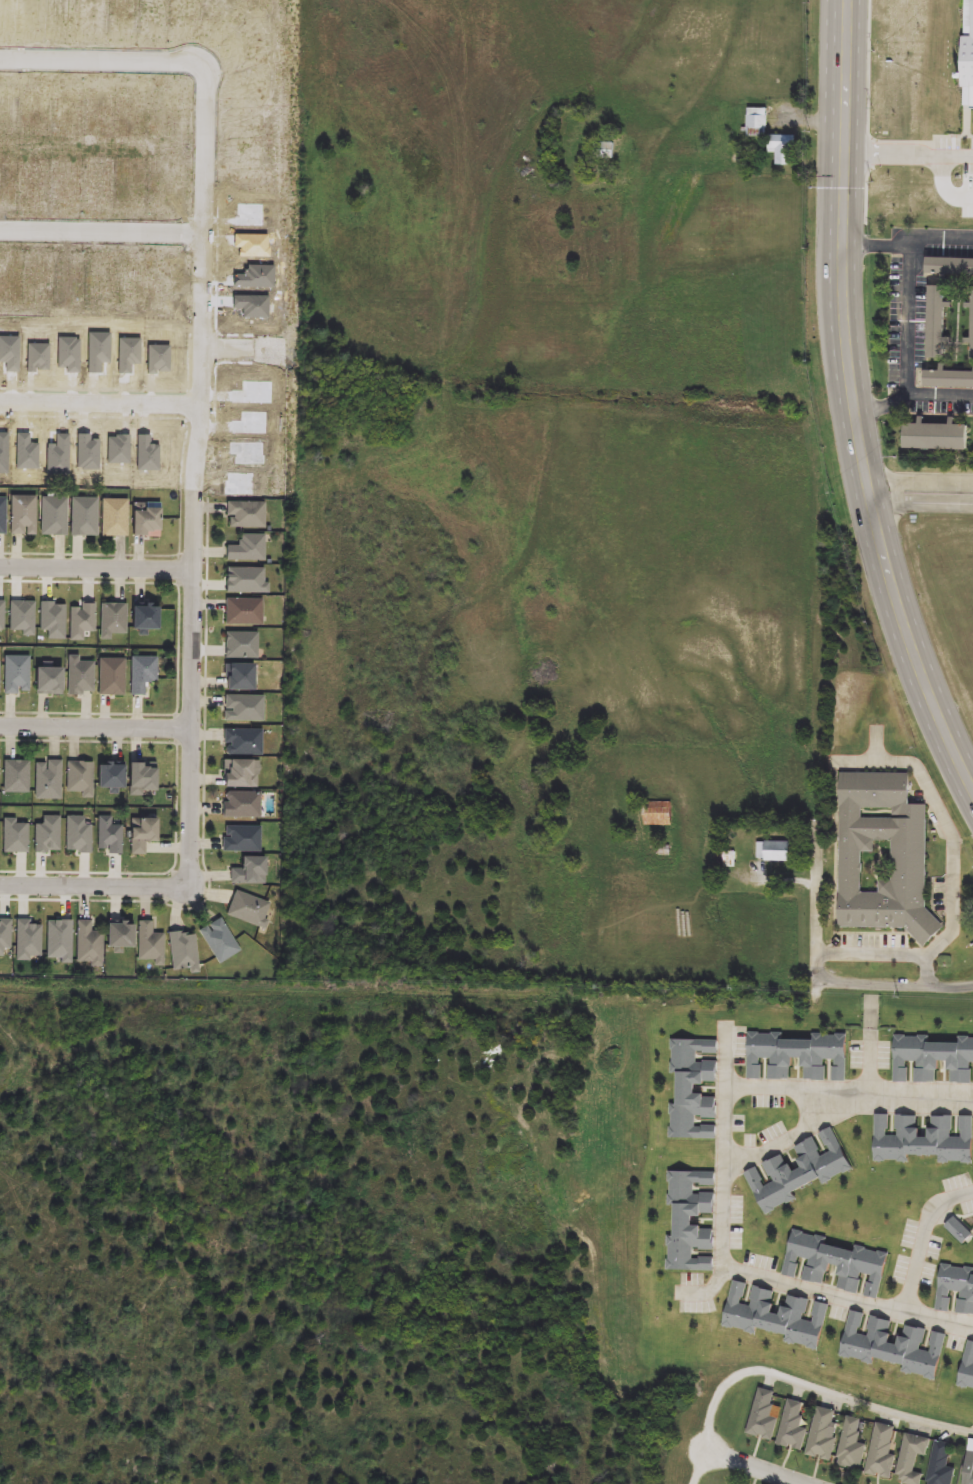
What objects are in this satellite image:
building: (966, 53)
road: (100, 61)
road: (866, 110)
building: (756, 123)
building: (782, 148)
building: (948, 148)
road: (909, 150)
building: (607, 151)
building: (7, 178)
building: (35, 181)
building: (99, 182)
parking lot: (968, 182)
building: (163, 183)
road: (944, 184)
building: (68, 185)
road: (193, 185)
building: (132, 186)
building: (249, 214)
road: (95, 217)
road: (104, 233)
road: (192, 234)
road: (94, 245)
building: (251, 245)
road: (908, 245)
building: (949, 267)
road: (219, 268)
building: (71, 277)
building: (255, 277)
building: (10, 279)
building: (131, 280)
building: (38, 281)
building: (161, 282)
road: (205, 282)
building: (100, 284)
building: (251, 305)
road: (191, 319)
road: (909, 320)
building: (935, 322)
building: (971, 325)
road: (237, 335)
road: (225, 347)
road: (217, 348)
building: (96, 352)
building: (10, 354)
building: (127, 355)
building: (67, 356)
building: (37, 358)
building: (156, 358)
road: (236, 362)
building: (948, 378)
road: (94, 389)
building: (252, 393)
road: (912, 395)
road: (99, 401)
road: (855, 402)
road: (190, 405)
road: (94, 415)
building: (250, 423)
building: (934, 436)
building: (117, 451)
building: (25, 452)
building: (86, 452)
building: (245, 452)
building: (3, 453)
building: (57, 455)
building: (146, 455)
building: (238, 484)
road: (182, 485)
road: (922, 494)
building: (23, 514)
building: (246, 514)
building: (3, 515)
building: (54, 516)
building: (83, 516)
building: (115, 516)
building: (146, 522)
building: (247, 547)
road: (88, 554)
road: (97, 568)
road: (176, 569)
building: (245, 580)
building: (243, 610)
building: (1, 616)
building: (22, 618)
building: (114, 618)
building: (83, 619)
building: (52, 620)
building: (146, 621)
building: (241, 645)
road: (176, 647)
building: (16, 674)
building: (143, 674)
building: (80, 676)
building: (112, 677)
building: (240, 679)
building: (50, 683)
road: (192, 694)
building: (244, 708)
road: (95, 727)
road: (173, 728)
road: (204, 734)
building: (243, 741)
building: (108, 776)
building: (239, 776)
building: (17, 777)
building: (80, 778)
building: (139, 778)
building: (49, 781)
building: (242, 804)
road: (174, 805)
building: (657, 814)
building: (47, 835)
building: (140, 835)
building: (76, 836)
building: (111, 836)
building: (13, 837)
building: (242, 838)
building: (774, 852)
building: (730, 859)
building: (908, 865)
building: (249, 872)
road: (957, 875)
road: (95, 885)
building: (249, 908)
road: (818, 910)
building: (4, 934)
building: (58, 939)
building: (120, 939)
building: (27, 941)
building: (220, 941)
building: (149, 943)
building: (89, 944)
building: (182, 950)
road: (932, 969)
road: (890, 985)
road: (873, 1046)
building: (796, 1055)
building: (932, 1059)
building: (692, 1088)
road: (802, 1130)
building: (923, 1137)
building: (798, 1170)
road: (730, 1180)
building: (689, 1220)
road: (925, 1236)
building: (835, 1263)
building: (955, 1289)
building: (776, 1316)
building: (893, 1346)
building: (967, 1366)
road: (716, 1395)
road: (869, 1400)
building: (762, 1418)
building: (792, 1426)
building: (822, 1435)
building: (851, 1445)
building: (882, 1452)
building: (912, 1458)
building: (941, 1465)
road: (705, 1468)
road: (755, 1468)
building: (968, 1469)

